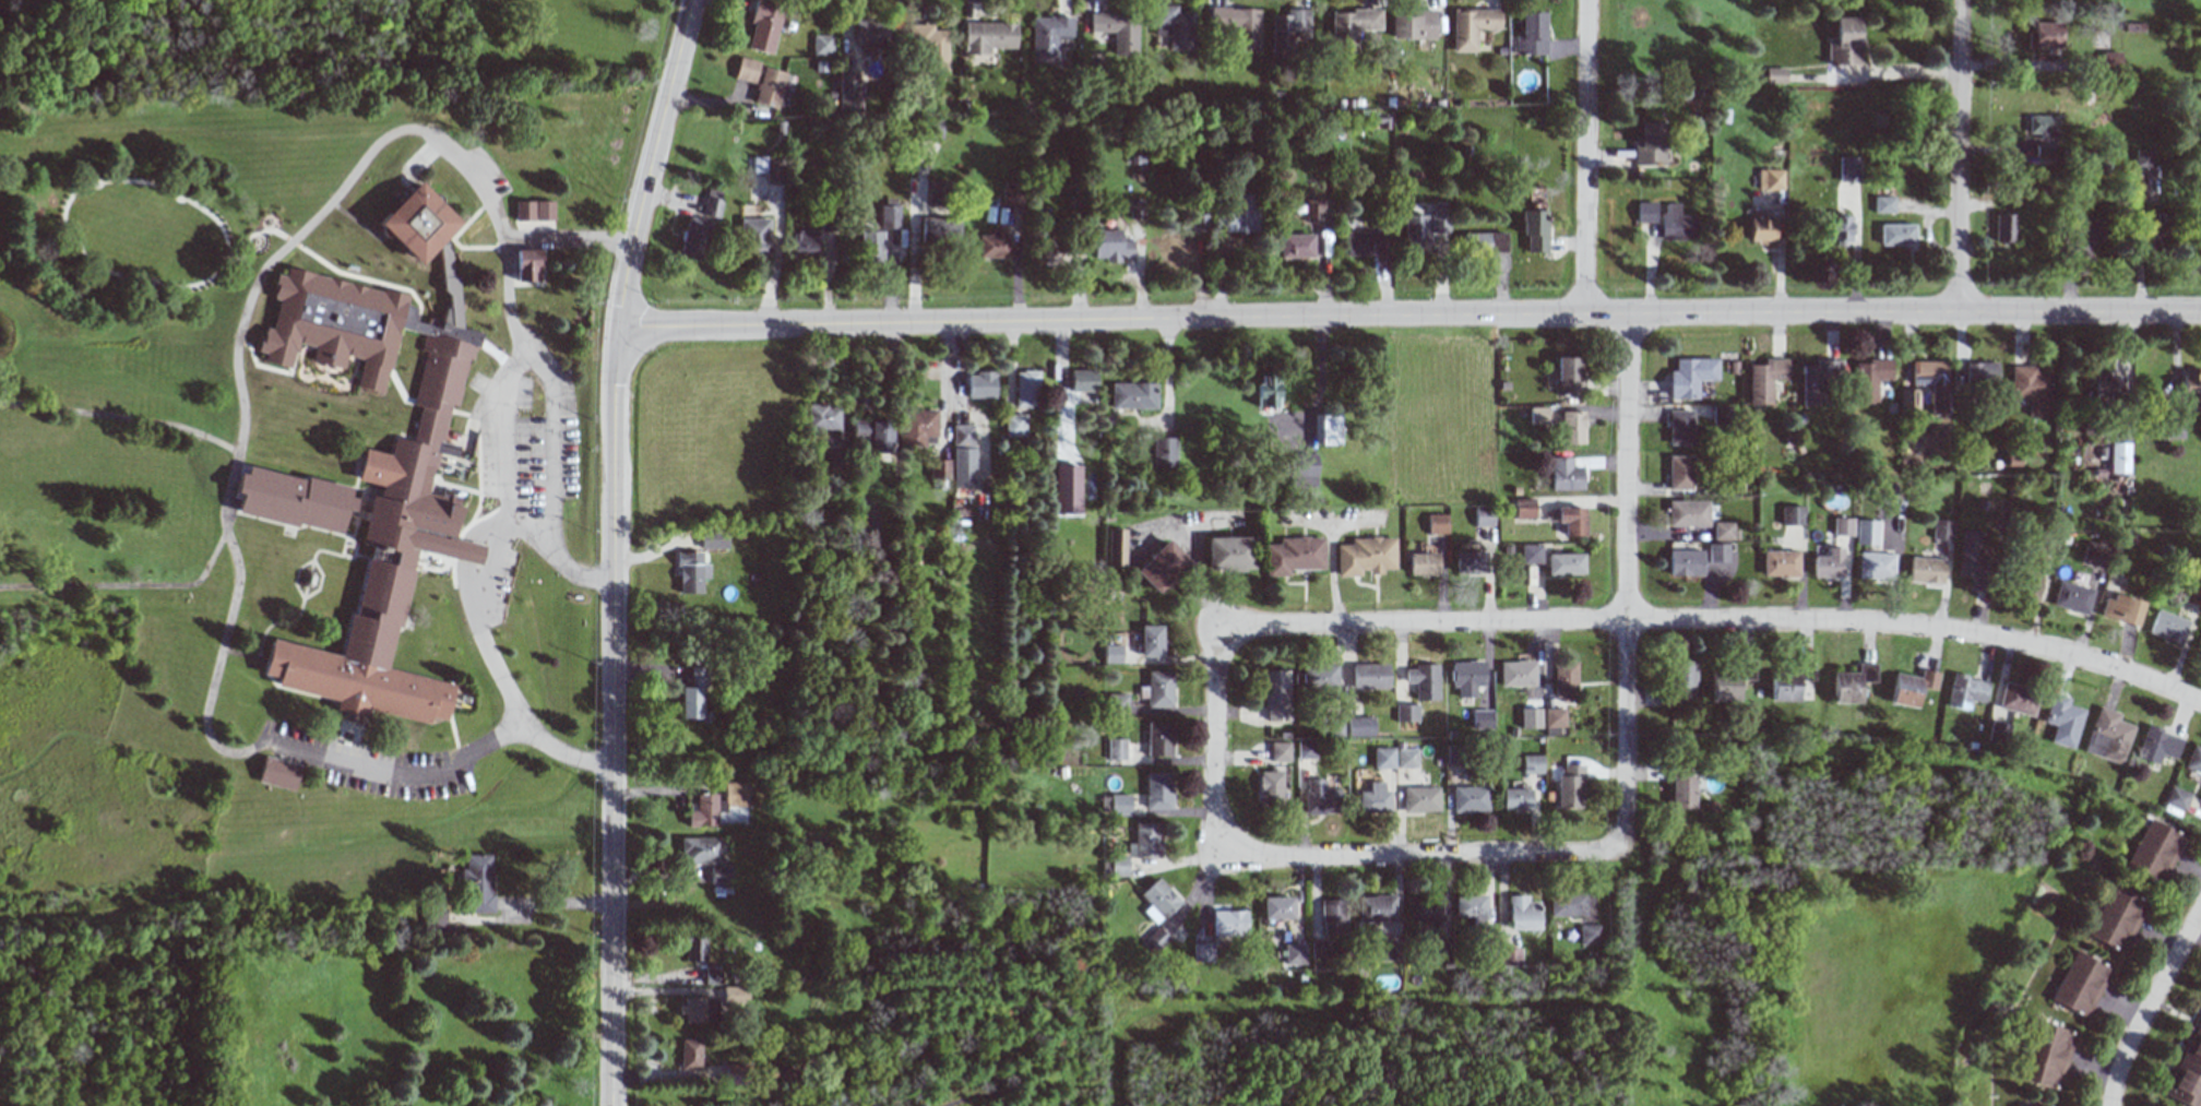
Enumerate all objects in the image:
building: (1414, 24)
building: (763, 25)
building: (1238, 25)
building: (1175, 26)
building: (1472, 26)
building: (1352, 27)
building: (1118, 31)
building: (871, 33)
building: (1289, 34)
building: (1532, 34)
building: (2045, 35)
building: (987, 37)
building: (1844, 41)
building: (821, 45)
building: (929, 45)
building: (2111, 59)
road: (1895, 72)
building: (1775, 75)
building: (760, 81)
building: (847, 91)
building: (2044, 126)
road: (400, 130)
building: (1649, 144)
road: (1584, 157)
road: (1959, 157)
building: (2143, 158)
road: (414, 164)
road: (647, 165)
building: (765, 167)
building: (1847, 169)
building: (1771, 179)
building: (937, 191)
building: (1012, 197)
building: (711, 203)
building: (1883, 204)
building: (1135, 209)
building: (1313, 210)
building: (533, 211)
building: (1645, 212)
building: (889, 213)
building: (1241, 216)
building: (1438, 218)
road: (466, 222)
building: (1676, 224)
building: (2152, 226)
building: (2004, 227)
building: (939, 229)
building: (1414, 229)
building: (1534, 229)
building: (1839, 229)
building: (2086, 230)
building: (1762, 231)
building: (1896, 234)
building: (753, 236)
road: (564, 238)
building: (693, 238)
building: (1484, 242)
building: (1365, 243)
building: (802, 245)
building: (869, 246)
building: (992, 246)
building: (1110, 246)
building: (1175, 246)
building: (1295, 246)
road: (471, 249)
road: (362, 252)
road: (914, 260)
road: (221, 262)
building: (526, 265)
road: (308, 287)
road: (1408, 318)
road: (418, 319)
road: (381, 337)
road: (490, 355)
road: (511, 356)
road: (320, 370)
building: (1979, 371)
building: (1567, 373)
building: (1690, 376)
building: (1868, 378)
building: (1764, 379)
building: (1082, 380)
building: (1818, 381)
building: (1931, 382)
building: (979, 384)
building: (2108, 384)
building: (2191, 384)
building: (1025, 389)
building: (2031, 389)
building: (1266, 391)
building: (1132, 395)
building: (1908, 402)
road: (476, 405)
building: (1723, 414)
building: (1537, 415)
building: (822, 417)
road: (118, 419)
building: (1014, 425)
building: (1571, 426)
building: (2175, 426)
building: (917, 427)
building: (1679, 427)
building: (1328, 428)
building: (872, 435)
road: (500, 443)
road: (548, 445)
building: (1164, 452)
building: (835, 455)
building: (962, 455)
building: (2118, 457)
building: (938, 469)
building: (1304, 471)
road: (474, 472)
building: (1679, 472)
building: (1565, 474)
building: (1067, 489)
road: (223, 490)
building: (383, 503)
building: (1523, 508)
building: (1688, 513)
building: (1793, 515)
building: (1483, 516)
building: (1571, 520)
road: (350, 523)
building: (1436, 523)
road: (283, 526)
building: (1842, 526)
building: (1941, 530)
building: (1724, 531)
building: (1867, 532)
building: (713, 538)
road: (345, 543)
building: (2048, 546)
road: (338, 547)
building: (1116, 548)
road: (348, 551)
building: (1229, 552)
building: (1717, 552)
road: (324, 554)
building: (1530, 554)
building: (1294, 555)
building: (2096, 555)
building: (1364, 556)
road: (356, 558)
building: (1973, 559)
building: (1470, 562)
building: (1686, 562)
building: (1780, 562)
building: (1421, 563)
building: (1565, 563)
building: (1828, 563)
building: (1876, 566)
building: (1162, 567)
building: (1926, 571)
building: (690, 572)
road: (290, 578)
road: (304, 581)
road: (314, 583)
building: (2027, 585)
road: (126, 587)
building: (2191, 594)
road: (1626, 596)
building: (2072, 597)
road: (462, 602)
building: (2121, 608)
road: (1711, 621)
road: (271, 625)
building: (2167, 627)
building: (1151, 640)
building: (1111, 653)
road: (239, 656)
road: (212, 668)
building: (1516, 673)
building: (1320, 676)
building: (1369, 676)
building: (1467, 677)
building: (1423, 679)
building: (1679, 680)
building: (1729, 680)
building: (1789, 680)
building: (1565, 681)
building: (1853, 682)
building: (1911, 687)
building: (1158, 688)
building: (1965, 690)
road: (305, 694)
building: (693, 695)
building: (1275, 695)
building: (2018, 699)
building: (1117, 703)
building: (1405, 713)
building: (1530, 717)
building: (1552, 717)
road: (610, 720)
building: (1482, 720)
building: (2062, 721)
building: (1333, 725)
building: (1359, 725)
road: (335, 734)
building: (1997, 735)
building: (2107, 735)
road: (450, 737)
road: (350, 738)
building: (1159, 739)
road: (1212, 742)
building: (2156, 747)
building: (1116, 748)
building: (1306, 749)
building: (1280, 750)
building: (1383, 758)
building: (1406, 758)
building: (2194, 760)
building: (1531, 763)
road: (394, 766)
building: (274, 774)
building: (1270, 786)
building: (1569, 786)
building: (1158, 790)
building: (1681, 790)
building: (735, 794)
building: (2177, 797)
building: (1320, 798)
building: (1373, 798)
building: (1421, 798)
building: (1470, 799)
building: (1514, 799)
building: (1120, 805)
building: (702, 811)
building: (1147, 840)
building: (2155, 849)
building: (700, 851)
road: (1407, 857)
building: (1119, 866)
building: (719, 875)
building: (477, 883)
building: (1161, 899)
building: (1566, 904)
road: (546, 905)
building: (1470, 906)
building: (1277, 907)
building: (1377, 908)
building: (1424, 908)
building: (1523, 913)
building: (1333, 916)
building: (2118, 916)
building: (435, 921)
building: (1229, 924)
road: (2197, 929)
building: (1589, 933)
building: (1155, 940)
building: (693, 947)
building: (1440, 947)
building: (1319, 949)
building: (1203, 951)
building: (1294, 953)
building: (1509, 956)
airport: (1688, 970)
building: (712, 976)
building: (2083, 982)
building: (735, 997)
road: (2149, 1006)
building: (692, 1010)
building: (690, 1054)
building: (2047, 1056)
building: (778, 1071)
building: (2187, 1071)
building: (734, 1073)

